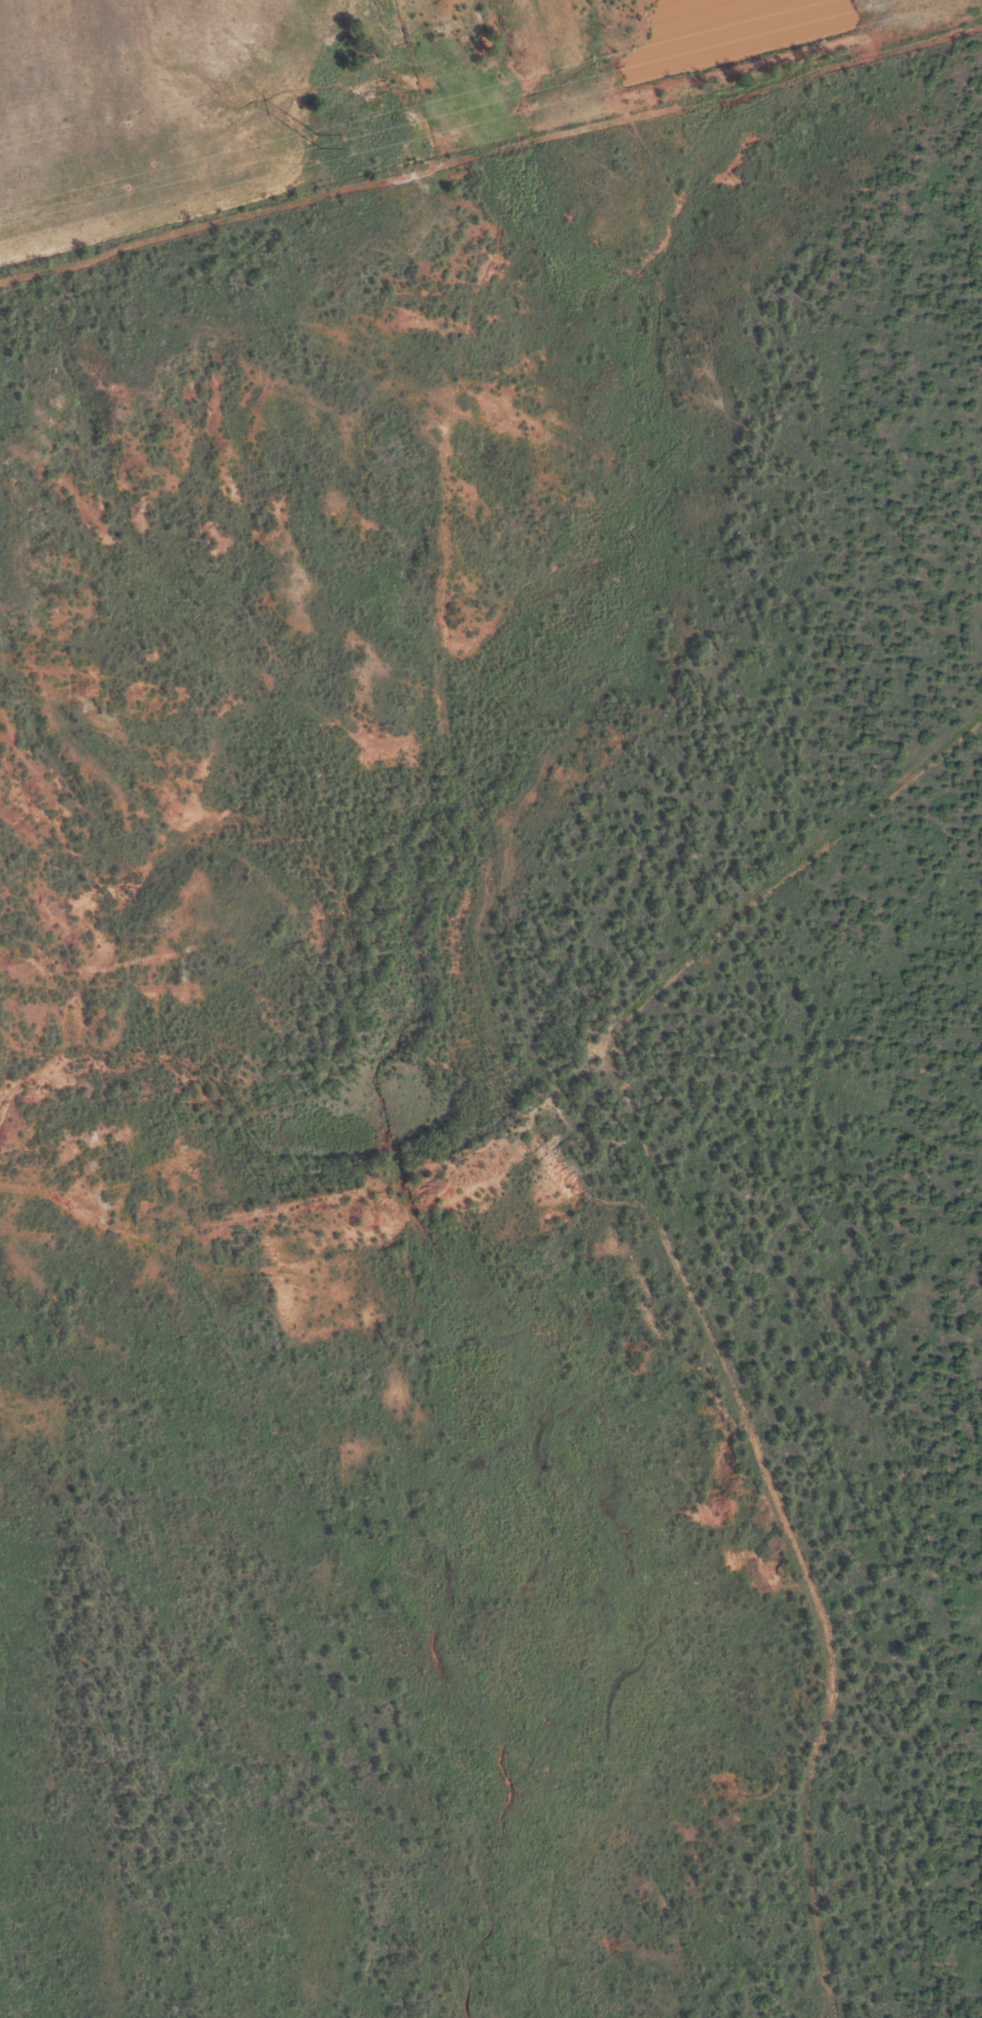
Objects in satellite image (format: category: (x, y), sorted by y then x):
power tower: (316, 140)
road: (772, 1529)

